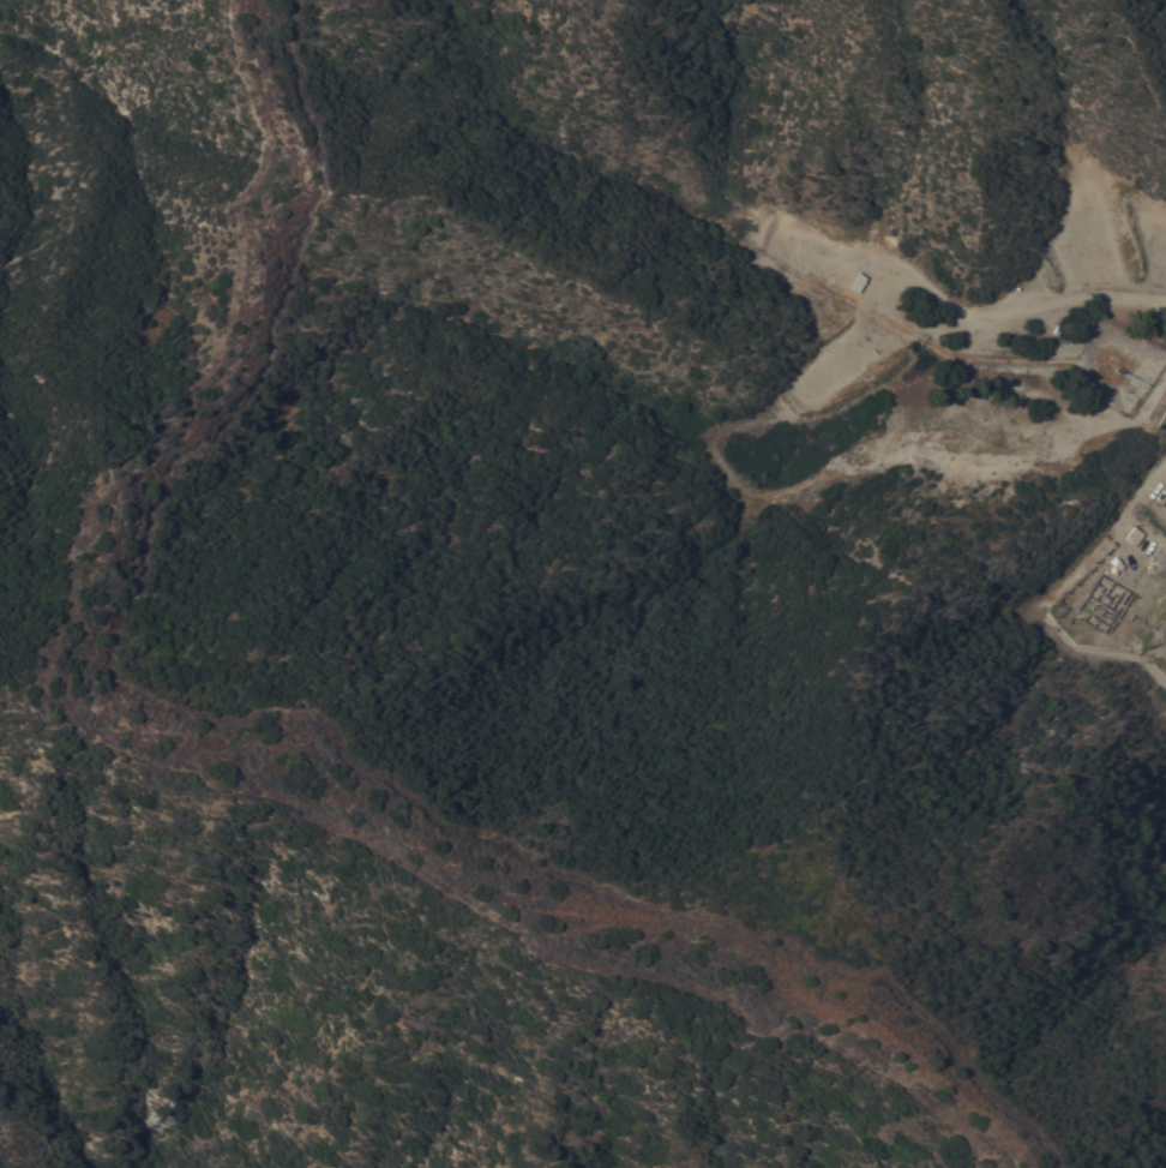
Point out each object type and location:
building: (854, 281)
road: (969, 322)
building: (1112, 604)

